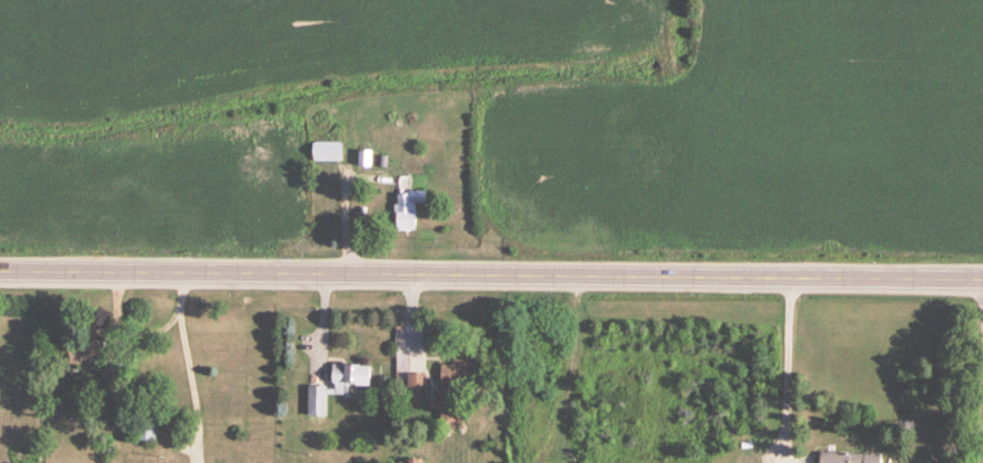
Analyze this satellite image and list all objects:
road: (472, 98)
building: (325, 147)
building: (364, 154)
building: (248, 178)
building: (279, 186)
building: (405, 204)
road: (491, 272)
road: (123, 331)
building: (84, 348)
road: (788, 364)
road: (187, 366)
building: (456, 369)
building: (414, 381)
building: (331, 384)
building: (446, 408)
building: (143, 425)
building: (847, 456)
building: (412, 459)

